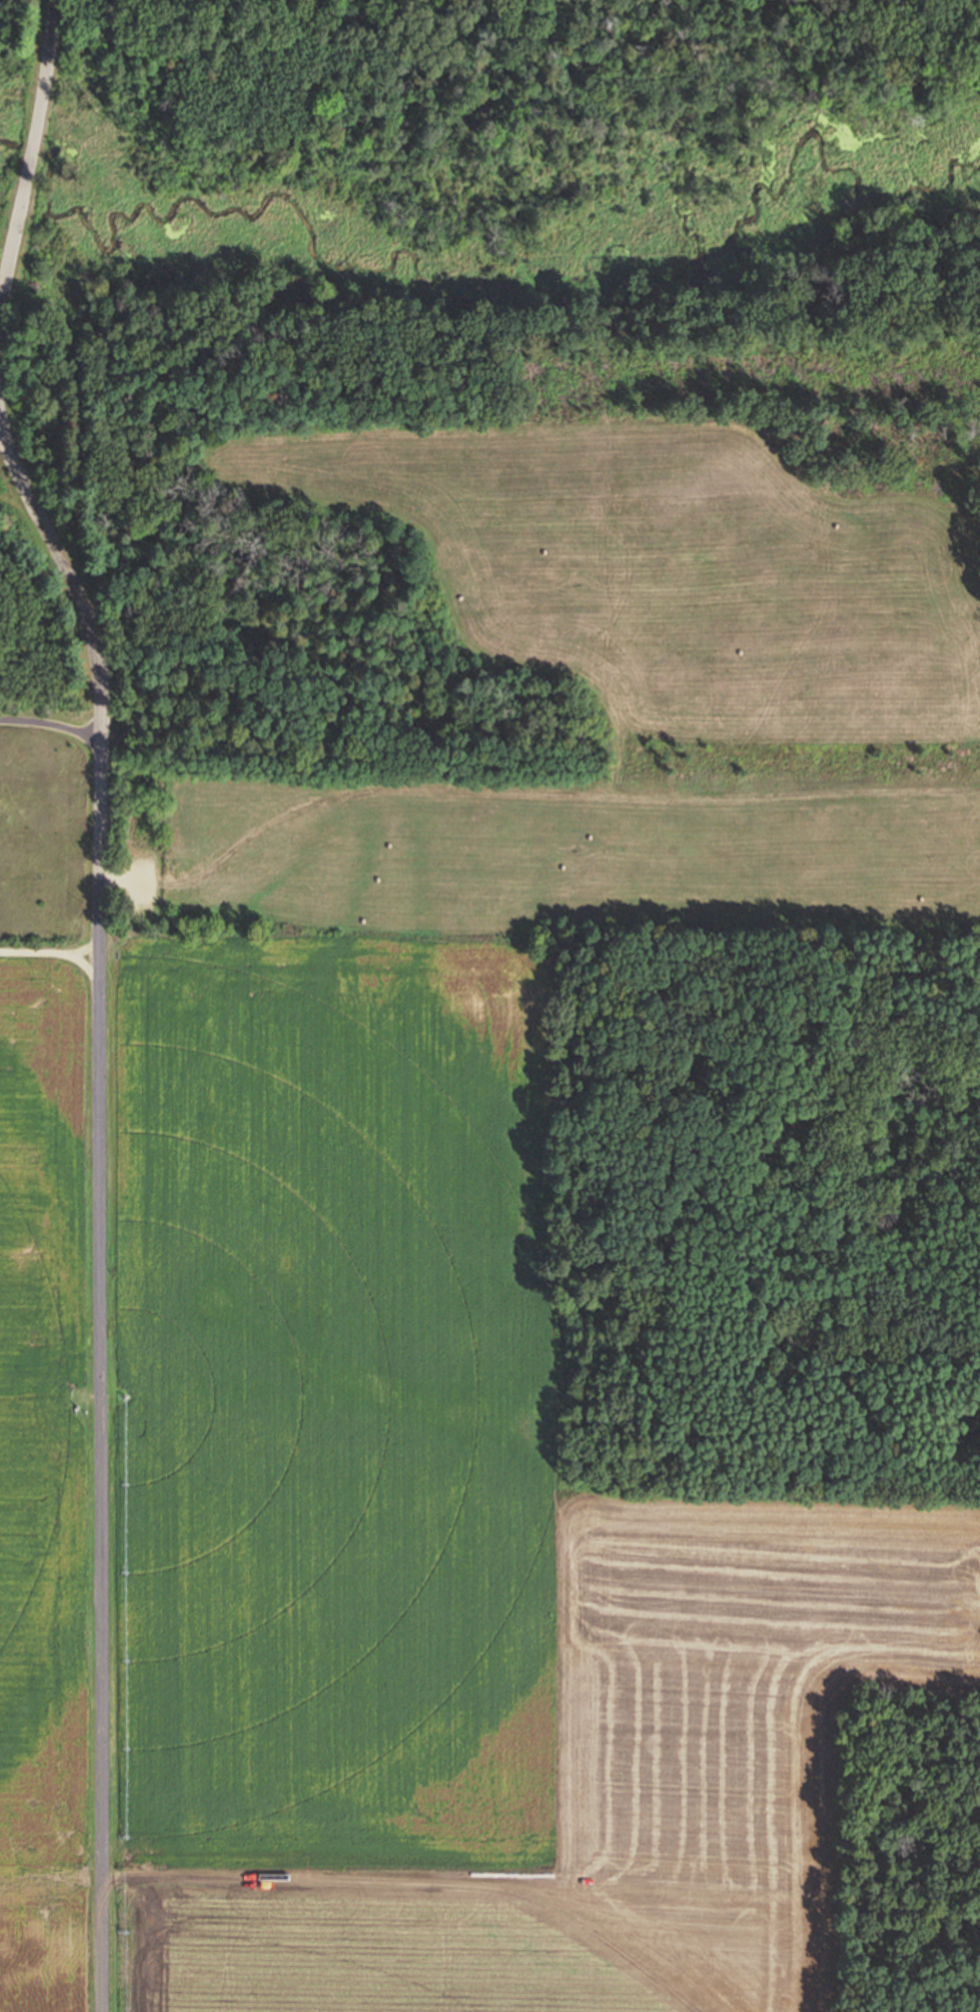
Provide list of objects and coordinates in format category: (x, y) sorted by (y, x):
road: (32, 155)
road: (248, 470)
park: (524, 513)
road: (975, 524)
road: (52, 721)
road: (553, 791)
road: (139, 870)
parking lot: (148, 883)
road: (86, 951)
road: (54, 953)
road: (102, 1203)

